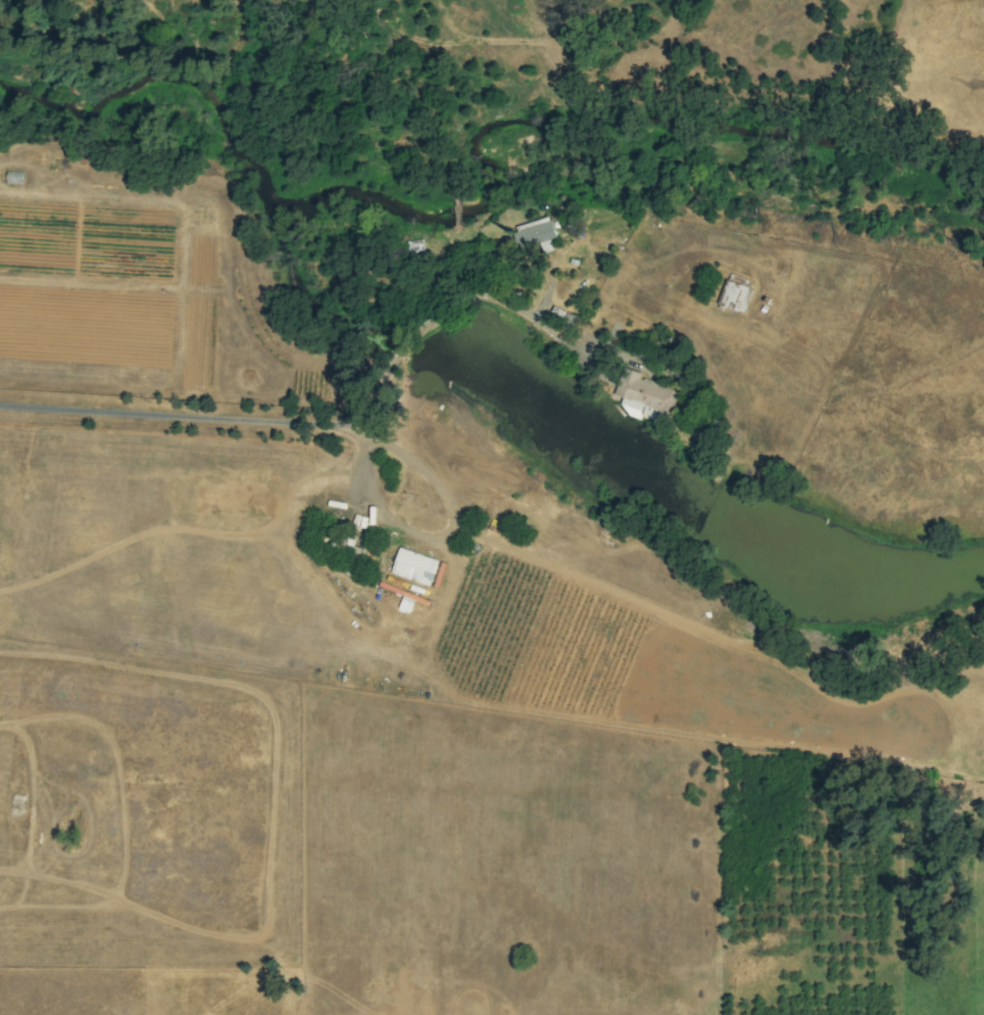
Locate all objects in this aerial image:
building: (534, 233)
building: (736, 294)
road: (464, 300)
building: (644, 397)
road: (187, 419)
building: (415, 566)
road: (645, 605)

